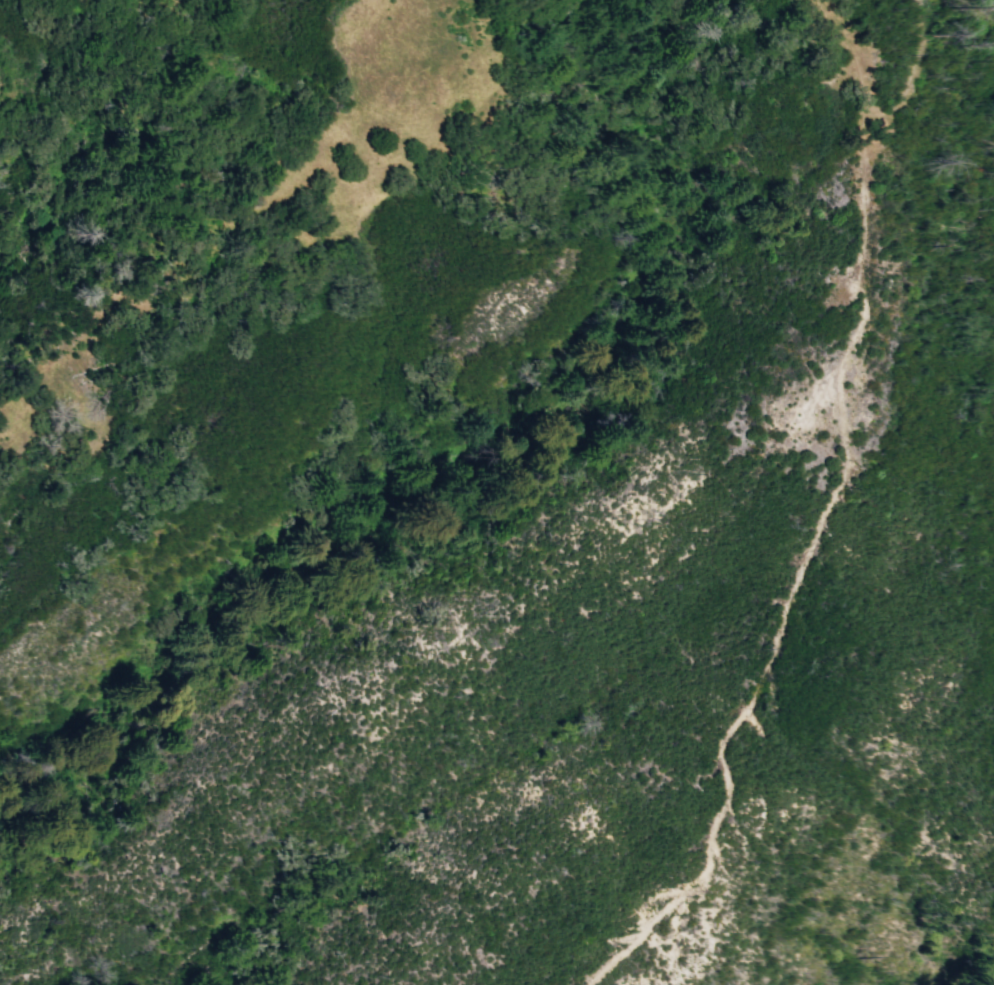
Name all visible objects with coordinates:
road: (840, 72)
road: (873, 114)
road: (863, 188)
road: (771, 651)

